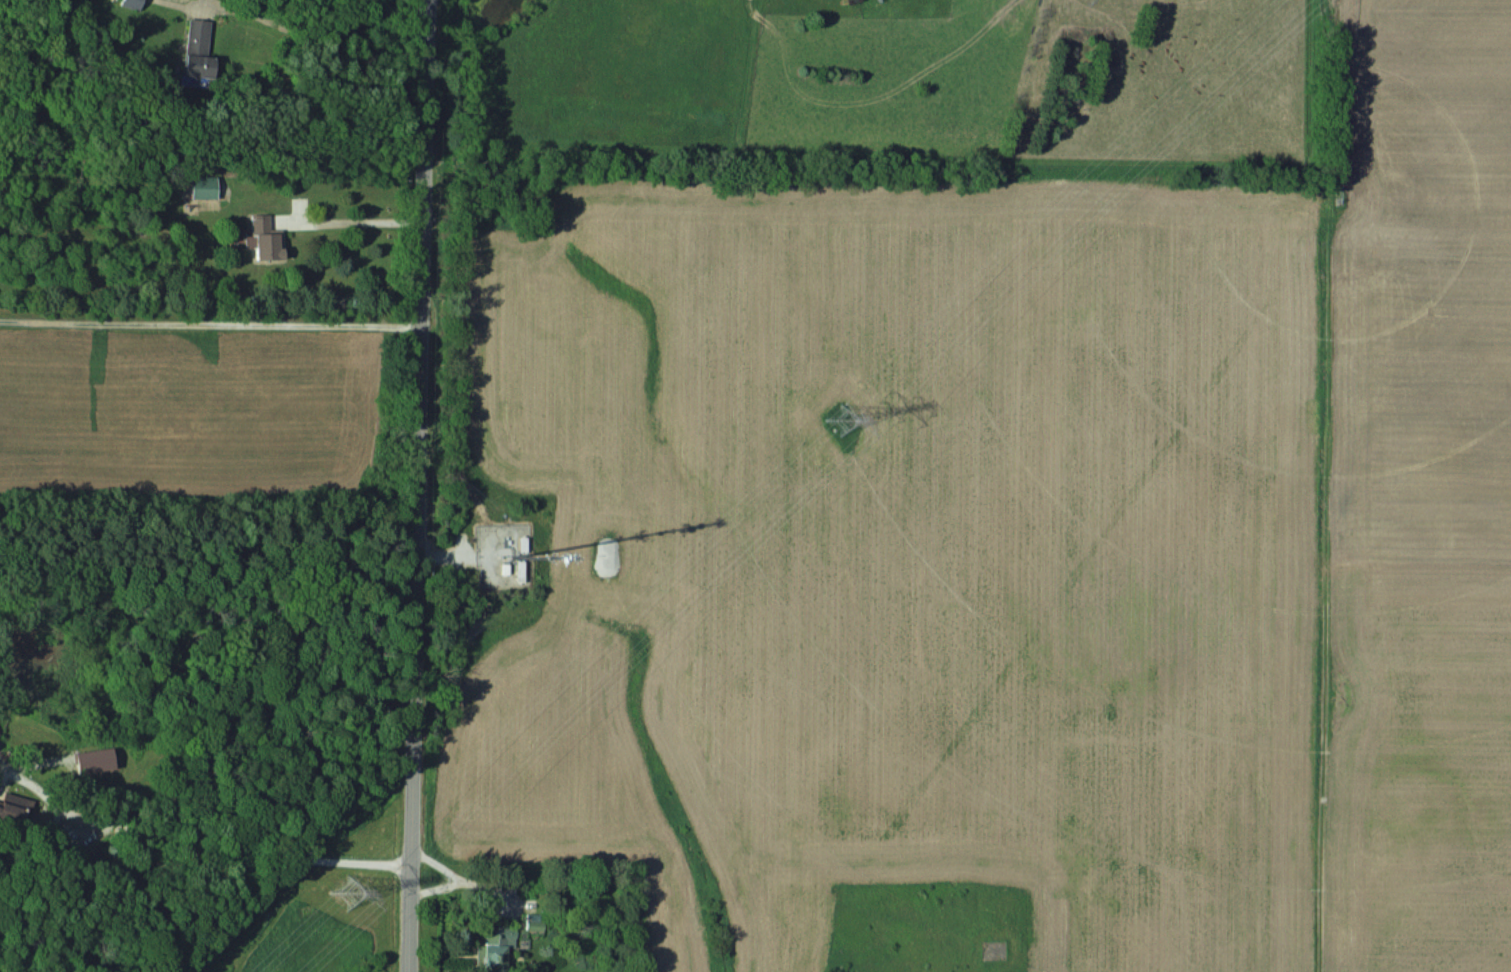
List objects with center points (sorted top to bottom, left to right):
road: (303, 31)
building: (198, 50)
building: (204, 187)
road: (372, 223)
building: (267, 237)
road: (211, 325)
power tower: (842, 420)
road: (420, 486)
road: (201, 847)
power tower: (347, 890)
building: (498, 946)

